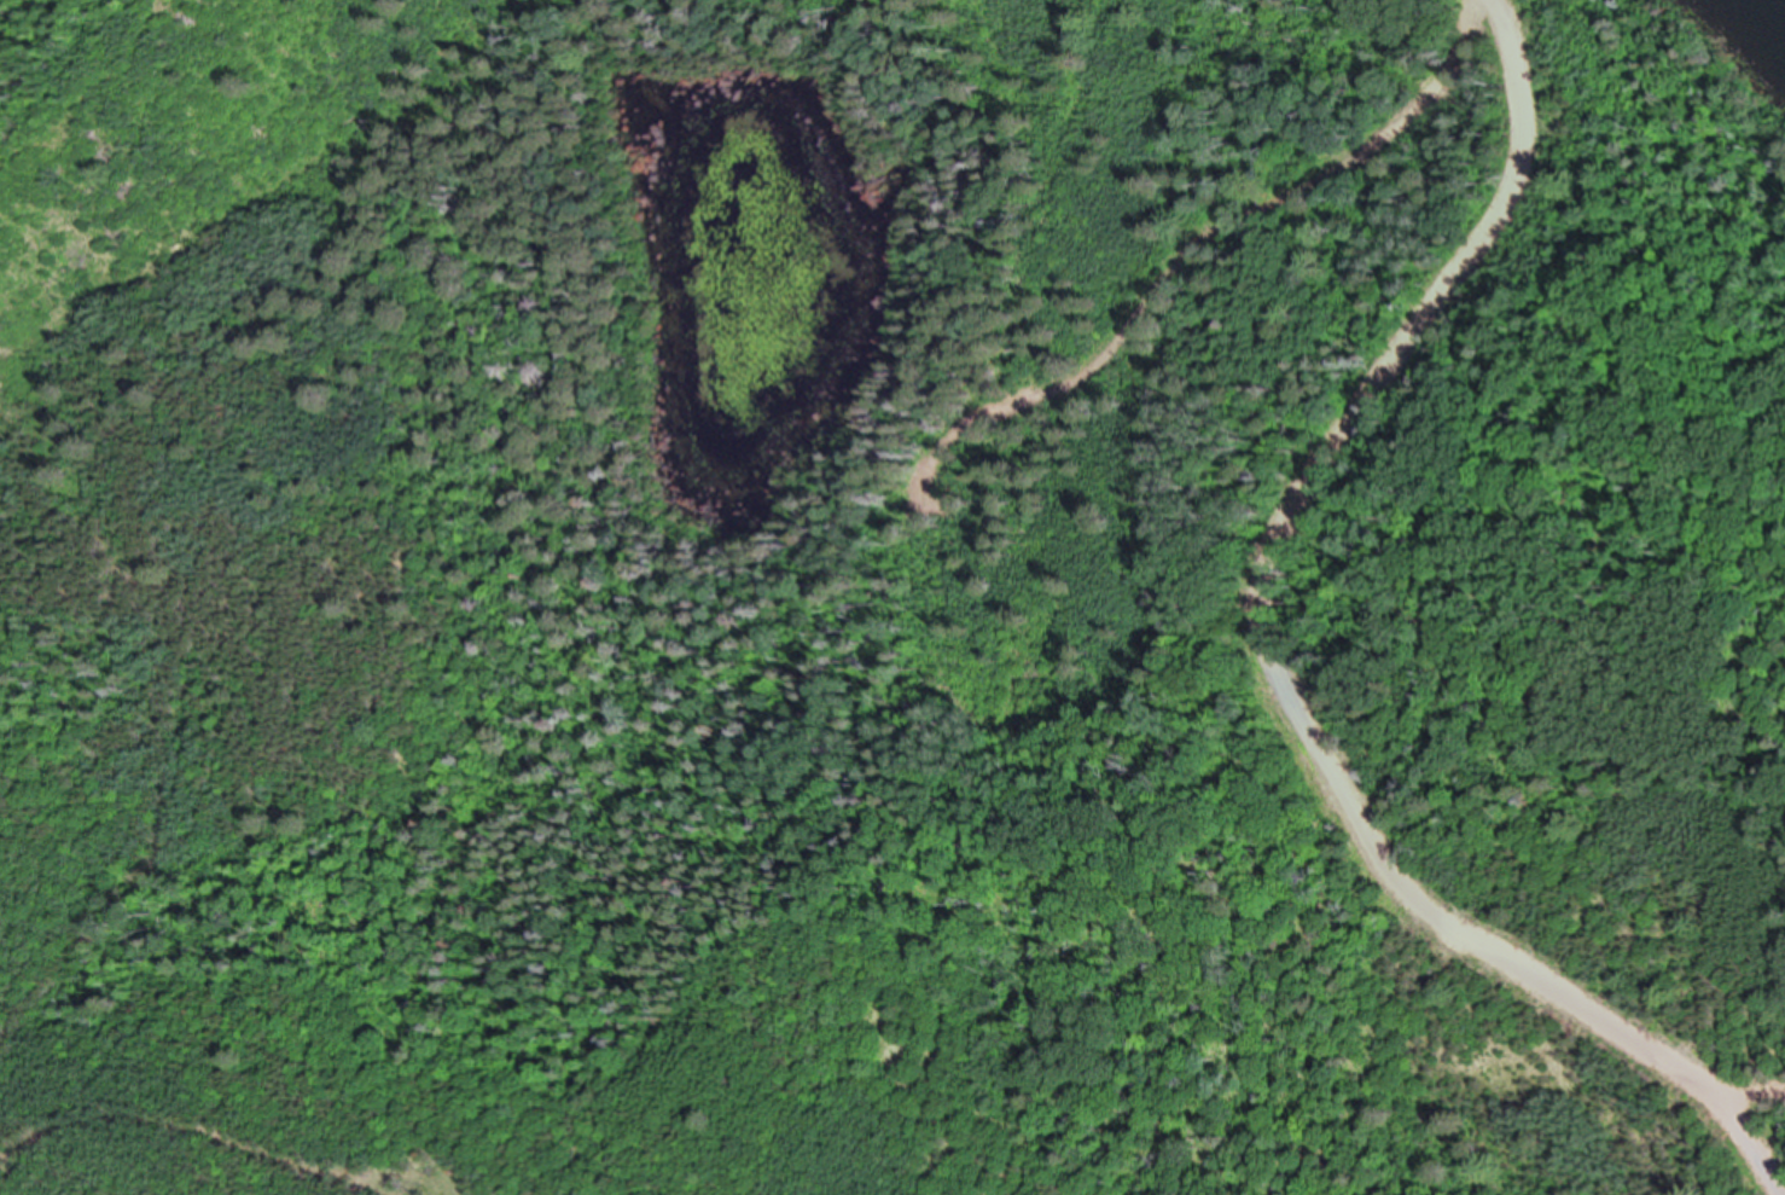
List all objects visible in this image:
road: (1279, 663)
road: (1748, 1086)

